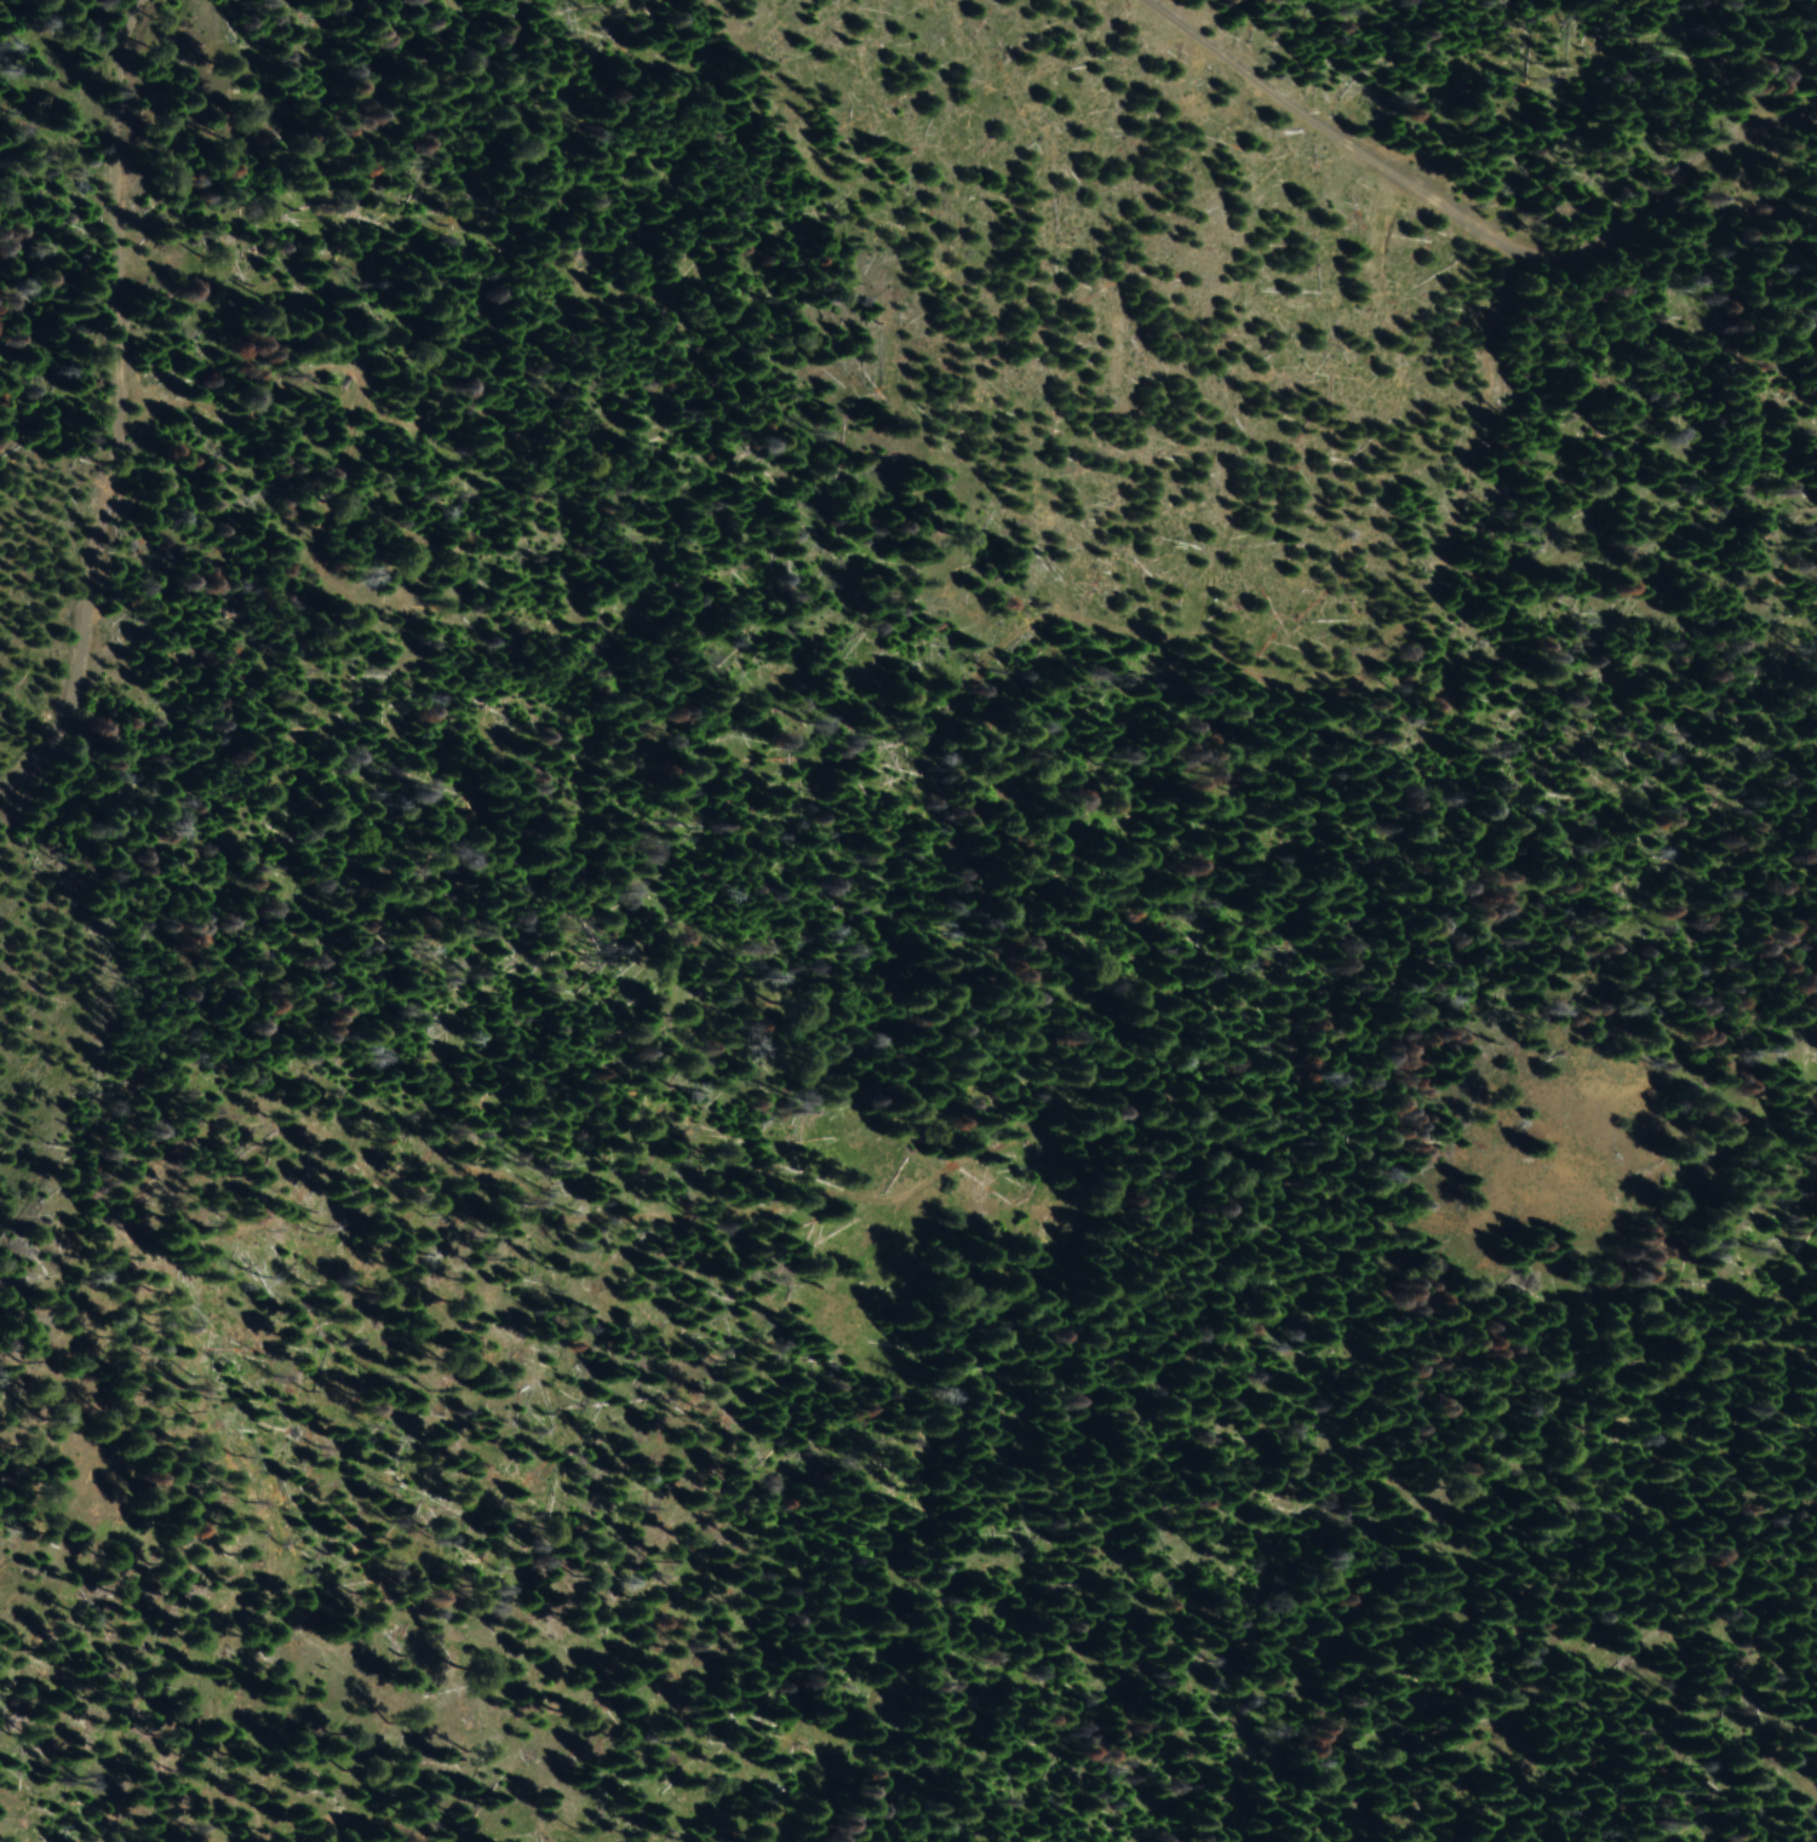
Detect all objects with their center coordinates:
road: (1448, 190)
road: (68, 293)
road: (320, 1836)

